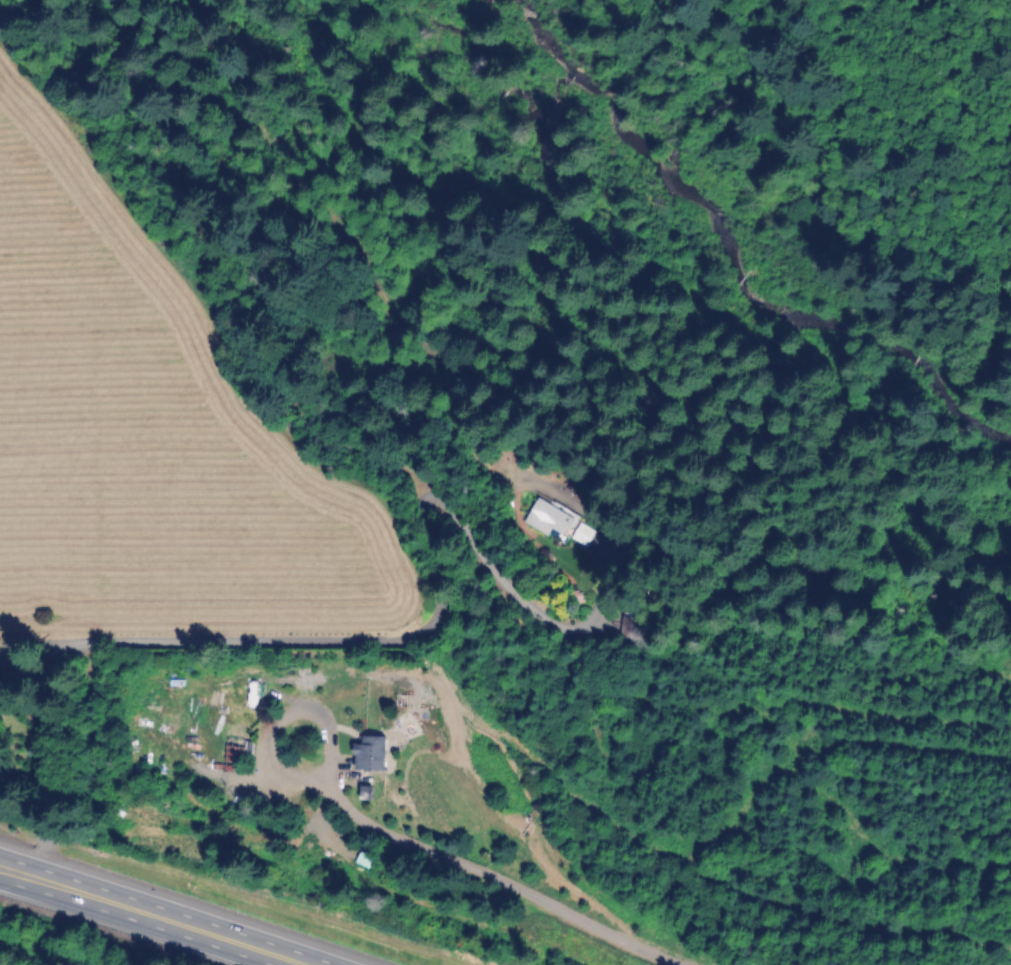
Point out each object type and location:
building: (545, 518)
building: (579, 534)
road: (277, 720)
building: (243, 749)
building: (363, 752)
road: (488, 881)
road: (158, 913)

